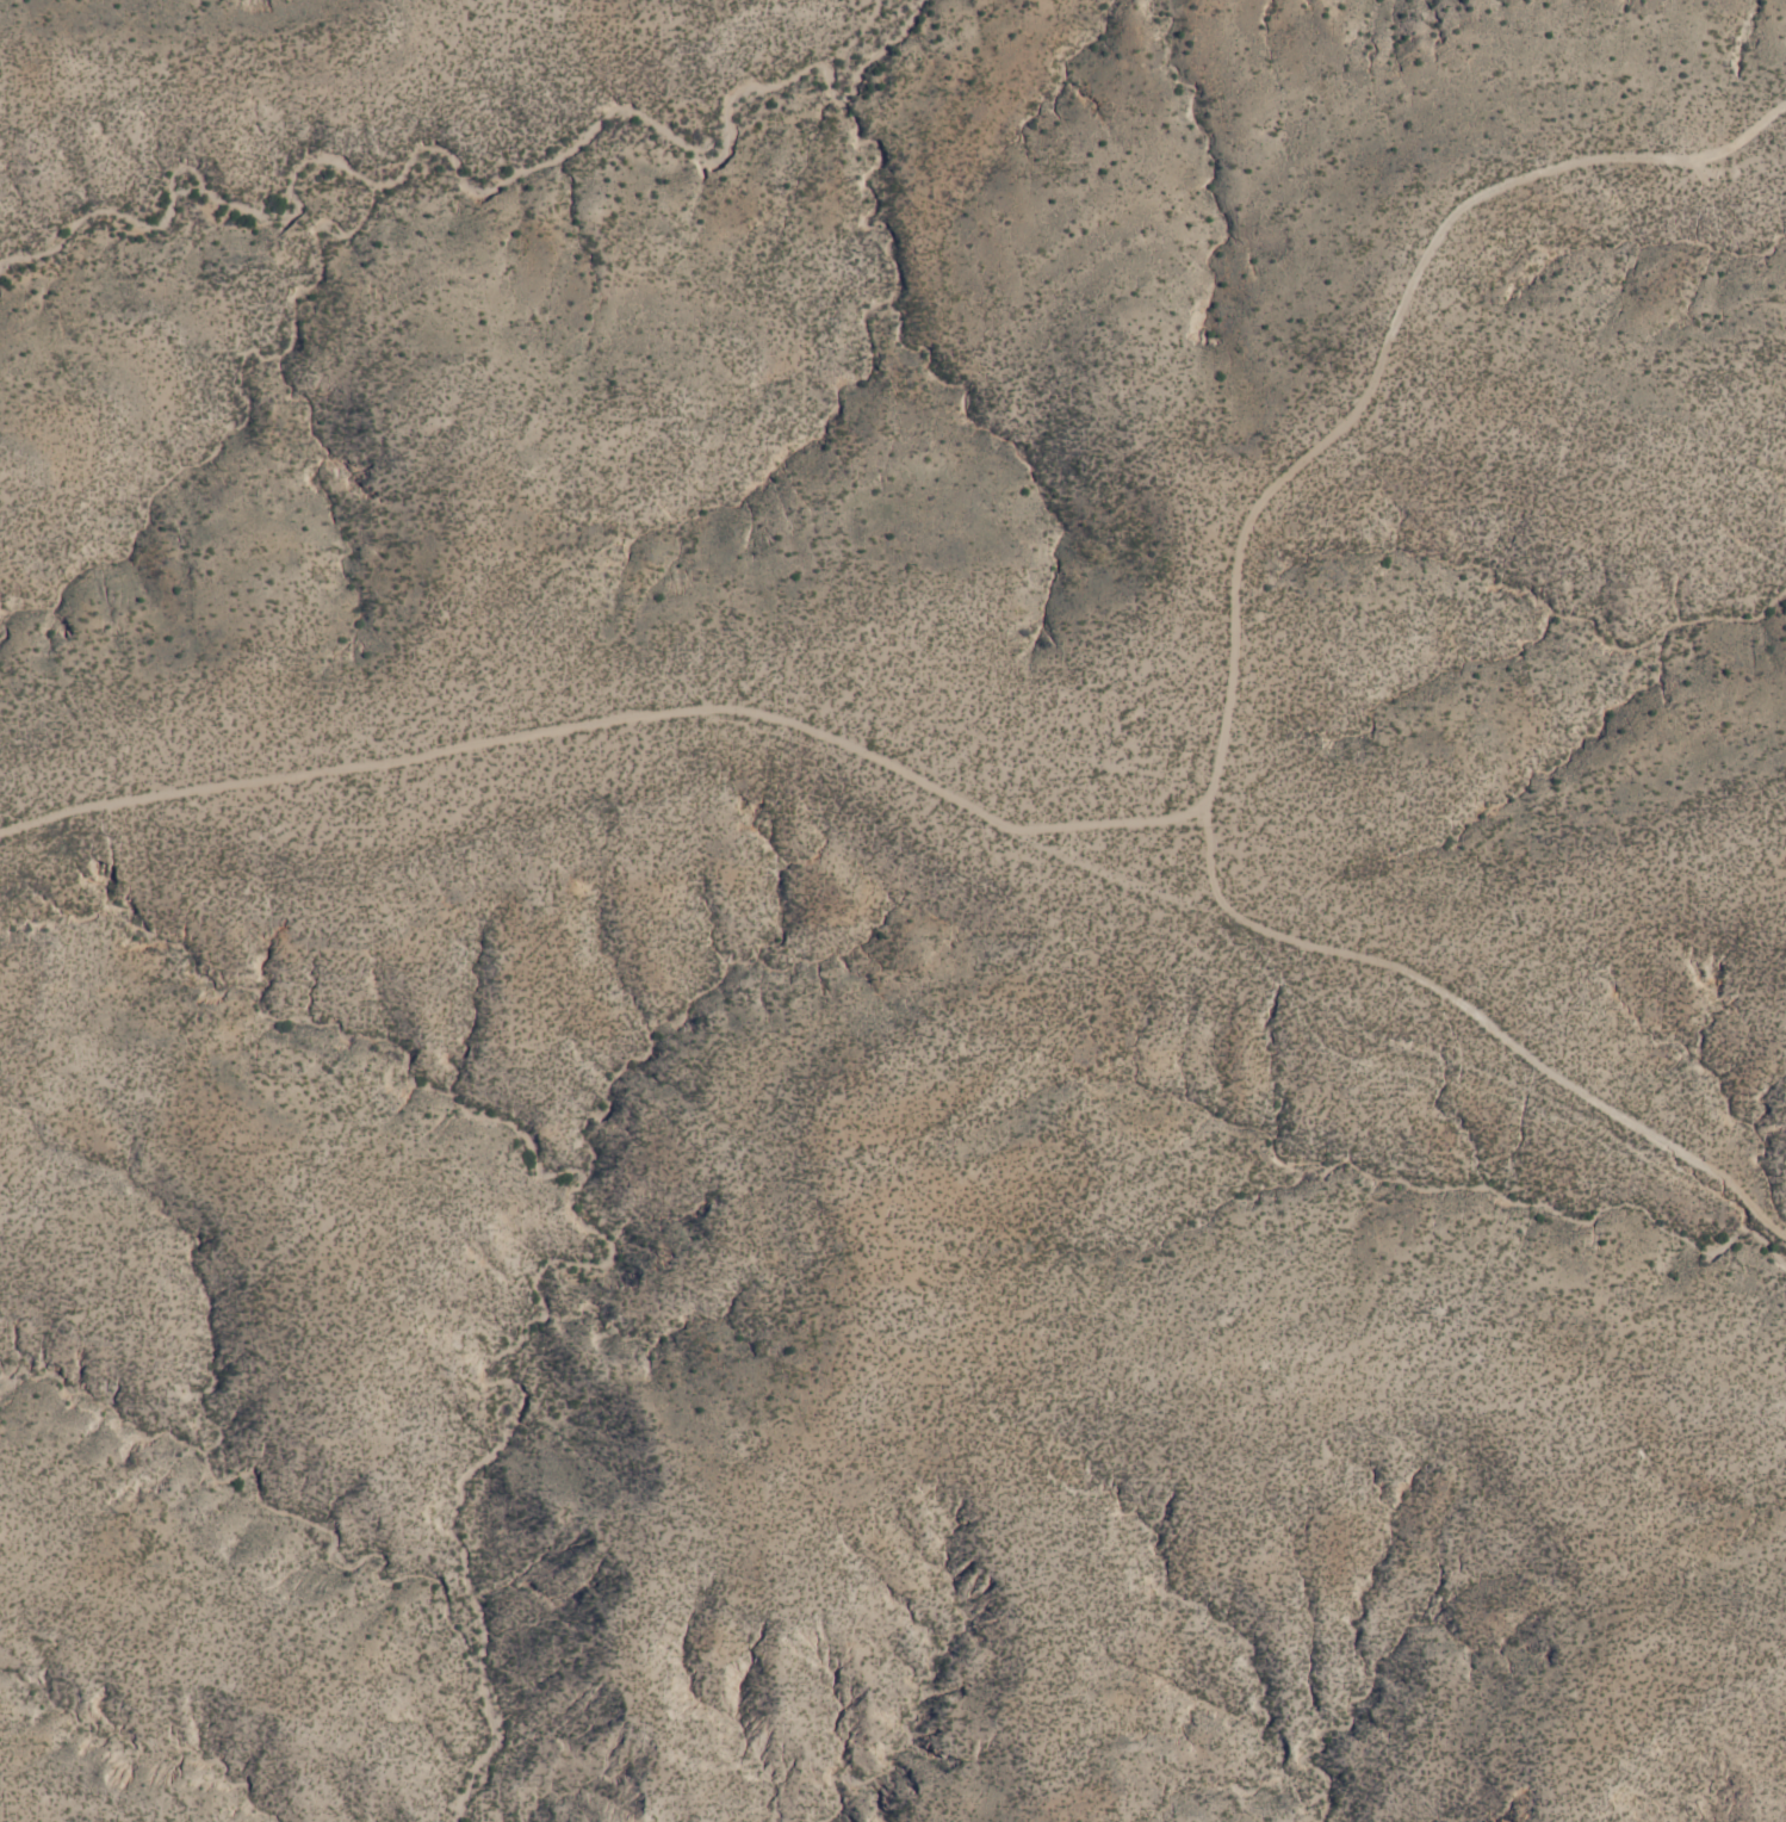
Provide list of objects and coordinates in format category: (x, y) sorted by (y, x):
road: (1226, 677)
road: (613, 721)

